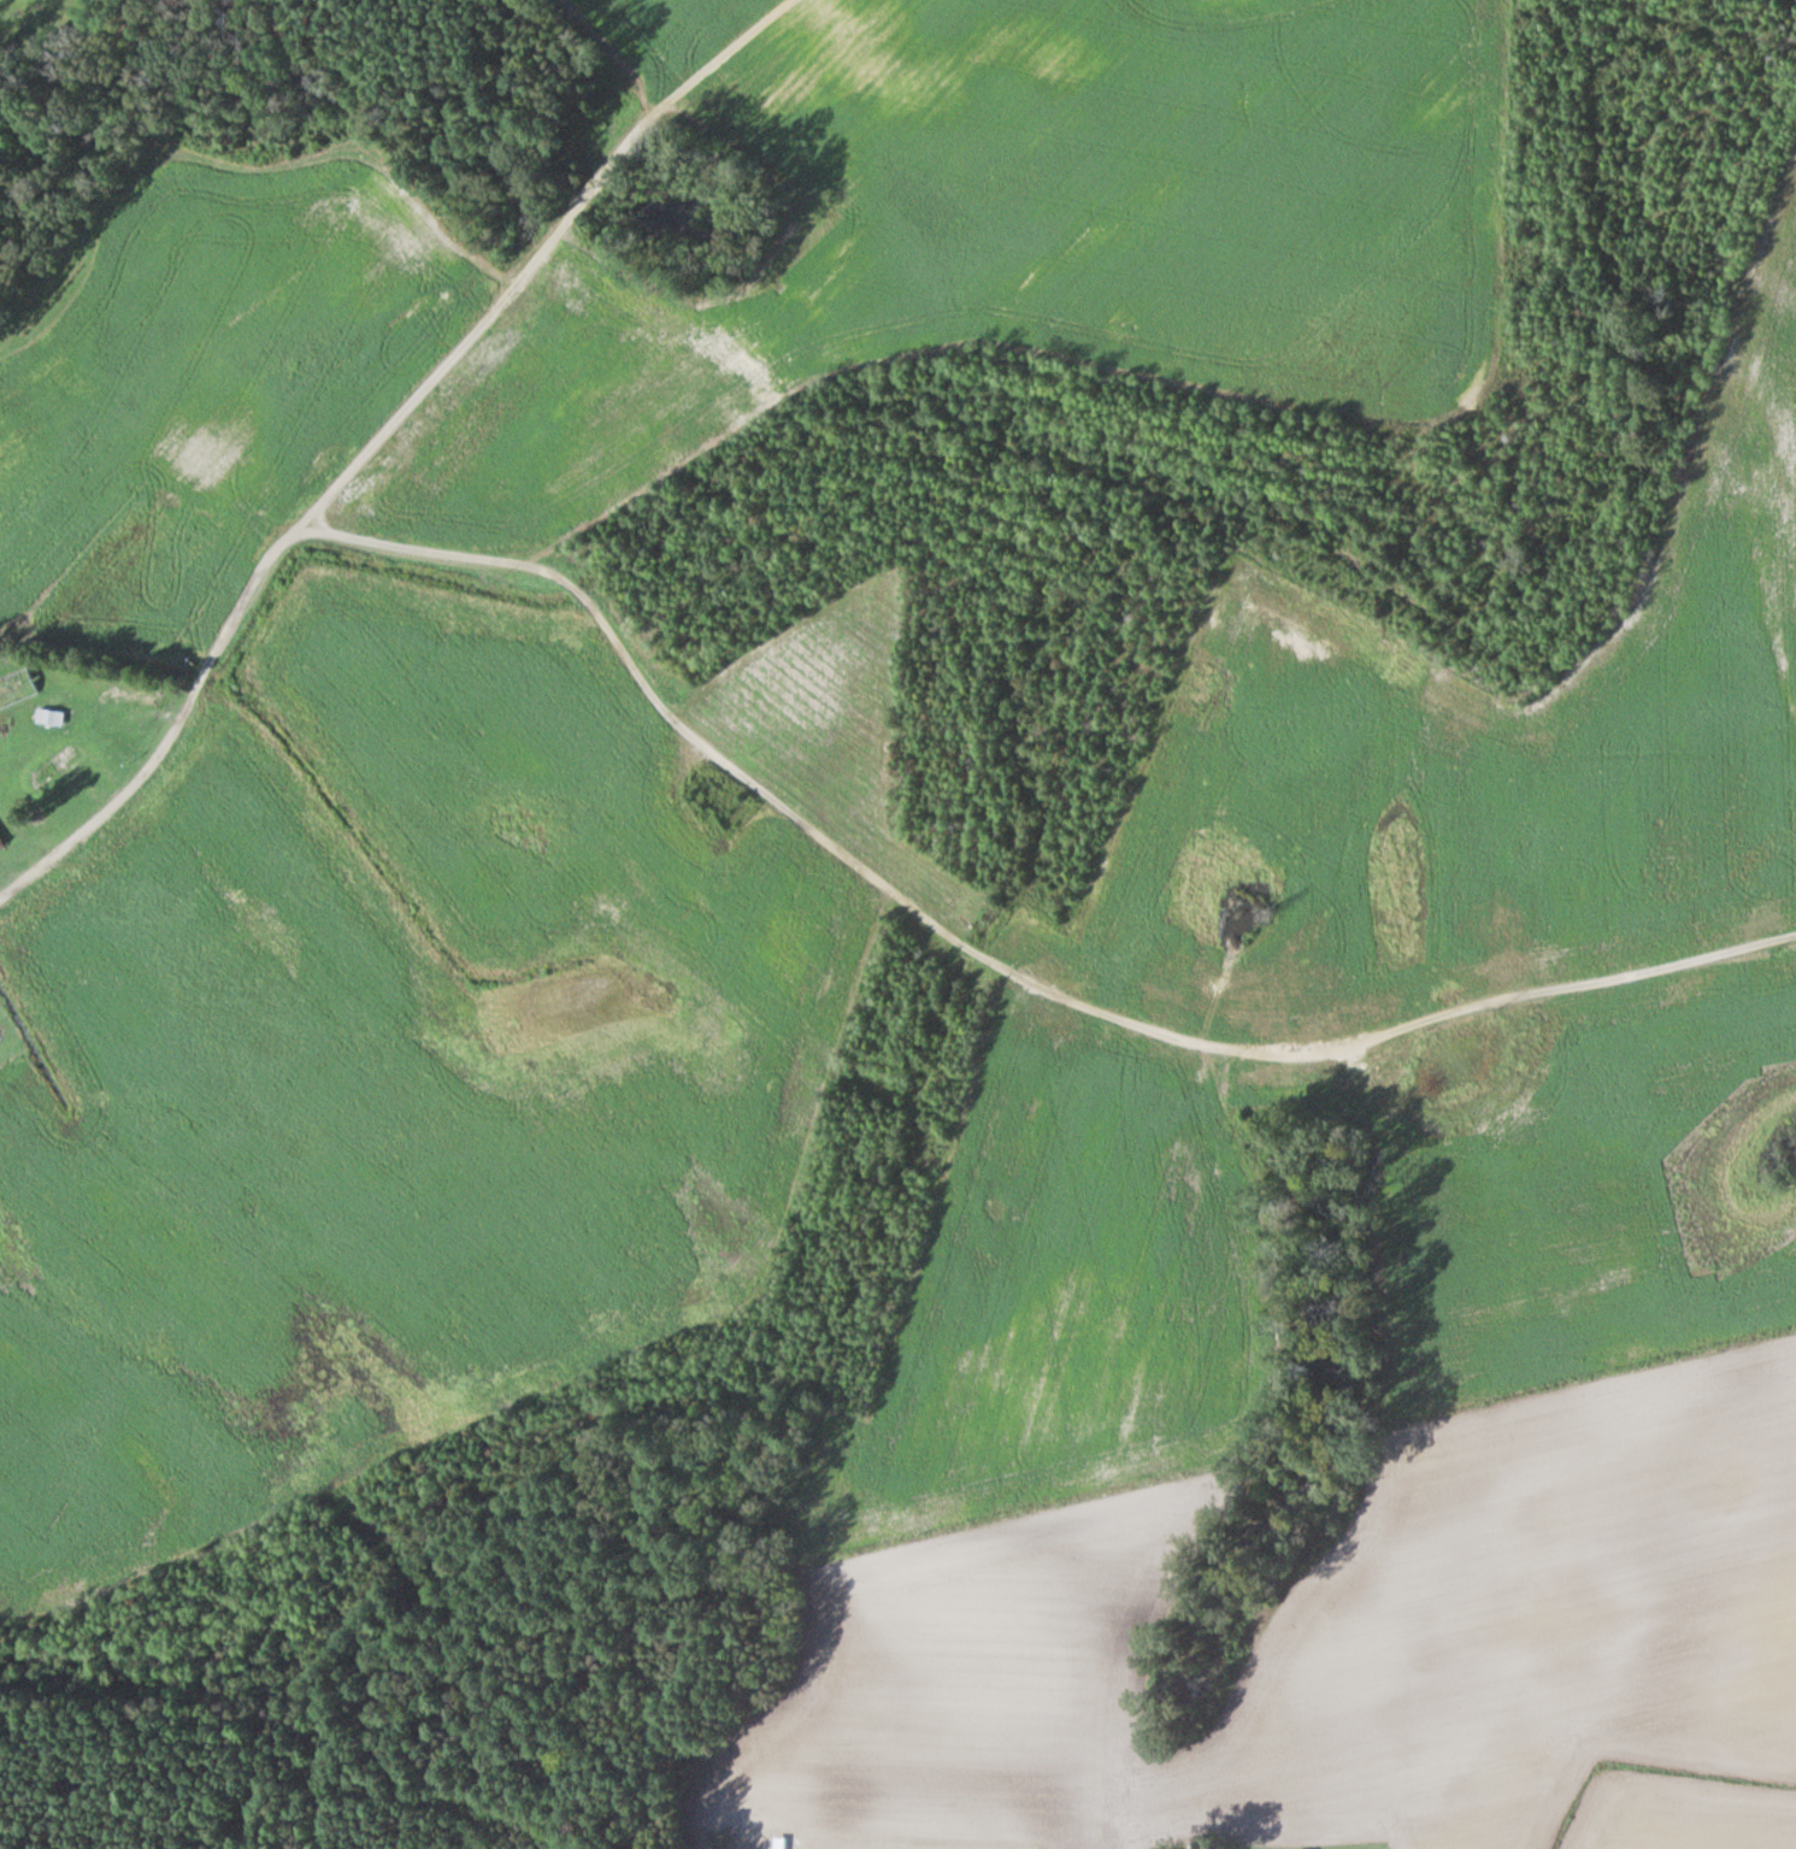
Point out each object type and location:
road: (608, 217)
road: (228, 658)
building: (16, 687)
building: (133, 695)
building: (0, 709)
building: (49, 716)
building: (51, 766)

